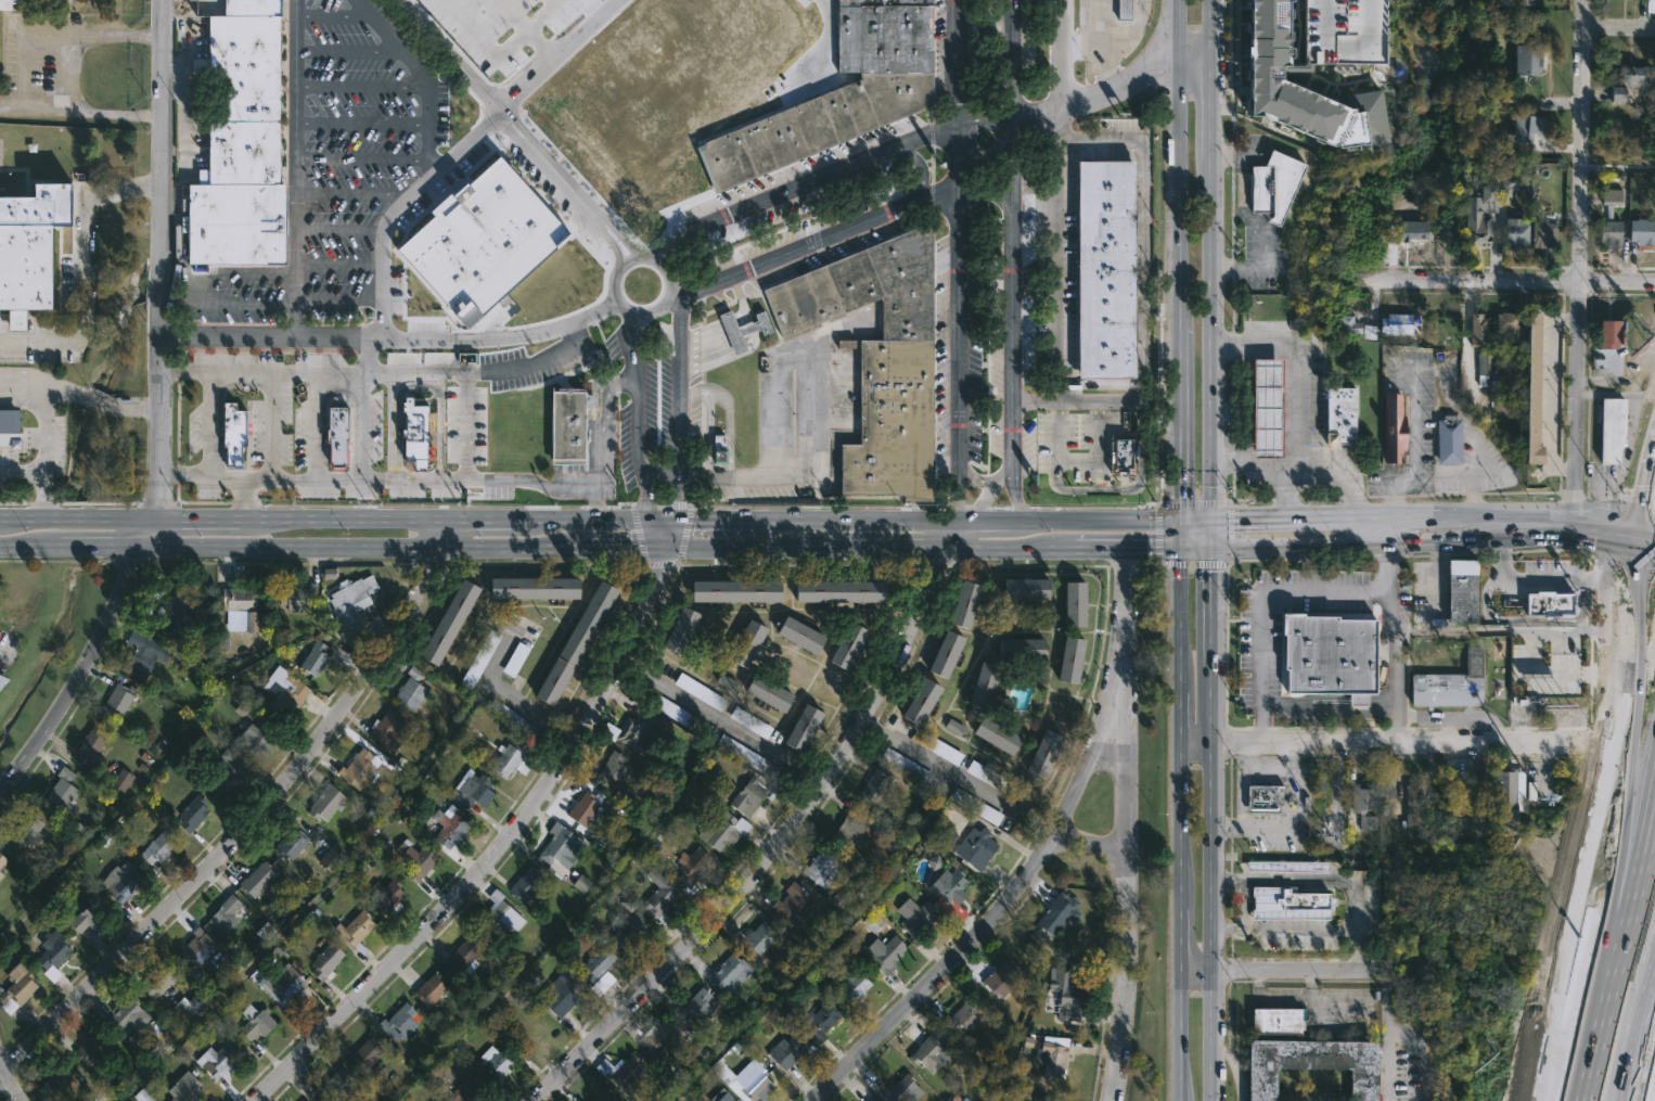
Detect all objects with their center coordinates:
road: (553, 0)
building: (5, 3)
building: (1522, 3)
building: (1292, 5)
building: (238, 7)
building: (1121, 10)
road: (333, 15)
road: (1620, 27)
road: (526, 28)
road: (1210, 29)
road: (1180, 30)
road: (91, 33)
building: (1390, 33)
road: (1336, 47)
road: (347, 50)
road: (561, 50)
road: (497, 52)
road: (402, 56)
road: (1195, 60)
building: (1527, 60)
road: (1011, 61)
building: (1298, 61)
road: (957, 62)
road: (22, 68)
building: (1265, 78)
building: (1630, 80)
road: (362, 87)
building: (1368, 91)
building: (839, 92)
building: (238, 98)
road: (1093, 98)
road: (503, 103)
road: (11, 104)
road: (1210, 108)
road: (90, 110)
road: (979, 114)
road: (362, 123)
building: (1526, 126)
road: (428, 149)
road: (458, 150)
road: (362, 158)
road: (296, 168)
road: (1619, 168)
road: (920, 172)
building: (1512, 184)
road: (801, 188)
building: (1261, 188)
road: (46, 189)
road: (1180, 190)
road: (351, 193)
building: (1612, 196)
building: (232, 225)
building: (1542, 228)
building: (1640, 229)
road: (617, 230)
road: (338, 231)
building: (1413, 231)
building: (1475, 231)
building: (1514, 233)
building: (1608, 233)
road: (605, 236)
road: (825, 238)
road: (1051, 239)
building: (482, 240)
building: (30, 247)
road: (1580, 255)
road: (630, 258)
road: (382, 261)
road: (338, 266)
building: (1102, 270)
road: (226, 273)
road: (157, 276)
road: (1506, 280)
road: (1143, 293)
road: (88, 297)
road: (337, 300)
road: (226, 306)
building: (1348, 324)
building: (1389, 325)
building: (1508, 328)
building: (739, 330)
building: (1478, 330)
building: (1606, 335)
road: (389, 337)
road: (1011, 337)
road: (40, 338)
road: (1210, 340)
road: (957, 341)
road: (364, 354)
building: (876, 359)
road: (1180, 360)
building: (1481, 361)
road: (1429, 369)
road: (334, 370)
road: (408, 371)
road: (27, 373)
road: (394, 386)
road: (418, 386)
road: (1296, 391)
building: (1529, 392)
road: (208, 395)
road: (1157, 400)
road: (607, 401)
road: (1246, 405)
road: (807, 407)
road: (678, 408)
building: (1265, 408)
road: (637, 413)
road: (726, 413)
building: (1337, 417)
road: (269, 424)
building: (565, 425)
road: (466, 426)
building: (1609, 428)
building: (1393, 430)
building: (414, 432)
road: (706, 434)
building: (235, 435)
building: (338, 436)
building: (21, 437)
building: (1447, 440)
building: (716, 450)
road: (1099, 452)
building: (1119, 453)
road: (47, 456)
road: (1180, 461)
road: (1254, 464)
road: (197, 475)
road: (1647, 476)
road: (427, 481)
road: (983, 481)
road: (39, 497)
road: (534, 500)
road: (977, 505)
traffic signals: (1643, 508)
road: (660, 514)
road: (1433, 514)
road: (330, 519)
traffic signals: (660, 521)
road: (920, 521)
traffic signals: (1211, 521)
road: (1195, 522)
traffic signals: (1180, 523)
road: (1383, 530)
road: (660, 535)
road: (948, 535)
road: (1211, 535)
road: (1180, 536)
traffic signals: (1642, 538)
road: (1434, 543)
road: (330, 547)
traffic signals: (660, 549)
road: (803, 549)
traffic signals: (1181, 549)
traffic signals: (1213, 549)
road: (1078, 550)
road: (1438, 576)
road: (1535, 581)
building: (528, 589)
building: (732, 591)
building: (837, 591)
building: (1022, 591)
road: (1275, 592)
building: (295, 596)
building: (1458, 598)
building: (350, 599)
building: (962, 601)
building: (1549, 602)
building: (1072, 604)
building: (242, 605)
road: (1213, 607)
building: (171, 610)
building: (448, 622)
road: (1460, 629)
building: (679, 630)
building: (798, 636)
building: (570, 643)
building: (745, 643)
building: (844, 646)
building: (1019, 646)
road: (1530, 650)
building: (942, 652)
road: (1121, 652)
building: (142, 654)
building: (1326, 654)
road: (5, 657)
building: (311, 658)
building: (514, 658)
building: (1068, 658)
building: (478, 660)
building: (982, 679)
building: (1, 680)
road: (82, 680)
building: (1449, 683)
building: (281, 687)
building: (408, 688)
building: (766, 690)
road: (506, 693)
building: (119, 699)
building: (918, 701)
road: (1387, 710)
building: (510, 717)
road: (720, 722)
building: (800, 726)
building: (955, 728)
road: (1395, 728)
building: (628, 729)
building: (383, 731)
building: (991, 734)
building: (257, 739)
road: (1491, 745)
building: (89, 751)
building: (940, 751)
building: (1040, 753)
building: (511, 759)
building: (356, 767)
building: (906, 767)
building: (224, 769)
building: (608, 769)
road: (954, 774)
building: (990, 779)
building: (872, 785)
road: (1073, 789)
building: (472, 790)
building: (64, 791)
building: (1480, 791)
building: (1506, 791)
building: (747, 796)
building: (1262, 797)
building: (325, 802)
road: (1119, 803)
building: (1363, 804)
building: (1410, 805)
road: (1600, 805)
building: (976, 807)
building: (582, 808)
building: (193, 811)
road: (255, 821)
building: (850, 822)
road: (1182, 824)
building: (450, 825)
building: (29, 828)
building: (722, 830)
road: (1087, 842)
building: (287, 843)
building: (562, 845)
road: (772, 846)
building: (974, 846)
building: (158, 847)
road: (500, 853)
building: (416, 859)
building: (2, 860)
building: (330, 860)
building: (691, 865)
building: (819, 867)
building: (1, 874)
building: (255, 878)
building: (121, 881)
road: (1213, 883)
building: (524, 884)
building: (947, 885)
building: (656, 893)
building: (386, 895)
road: (1606, 898)
building: (1287, 904)
building: (791, 905)
road: (1357, 906)
building: (220, 916)
building: (1053, 916)
building: (500, 917)
building: (914, 917)
building: (82, 919)
building: (352, 929)
building: (627, 930)
building: (753, 939)
building: (52, 947)
building: (191, 952)
building: (882, 953)
building: (461, 956)
building: (323, 961)
building: (595, 963)
building: (727, 973)
road: (939, 973)
road: (1278, 973)
building: (999, 977)
road: (1121, 978)
building: (155, 981)
building: (851, 986)
building: (16, 987)
building: (280, 989)
building: (429, 989)
building: (1064, 990)
building: (559, 994)
road: (1284, 999)
building: (691, 1006)
road: (1628, 1013)
building: (125, 1015)
building: (818, 1016)
building: (960, 1016)
building: (1274, 1021)
building: (394, 1022)
building: (252, 1023)
road: (1388, 1029)
building: (657, 1038)
building: (90, 1049)
building: (787, 1050)
building: (362, 1052)
building: (926, 1053)
building: (218, 1059)
building: (1054, 1061)
building: (1308, 1063)
building: (495, 1064)
building: (620, 1072)
building: (1404, 1073)
road: (10, 1079)
building: (747, 1081)
building: (56, 1083)
building: (333, 1086)
building: (184, 1089)
building: (899, 1089)
building: (456, 1091)
building: (599, 1094)
building: (720, 1096)
building: (303, 1100)
building: (435, 1100)
building: (580, 1100)
building: (869, 1100)
building: (871, 1100)

